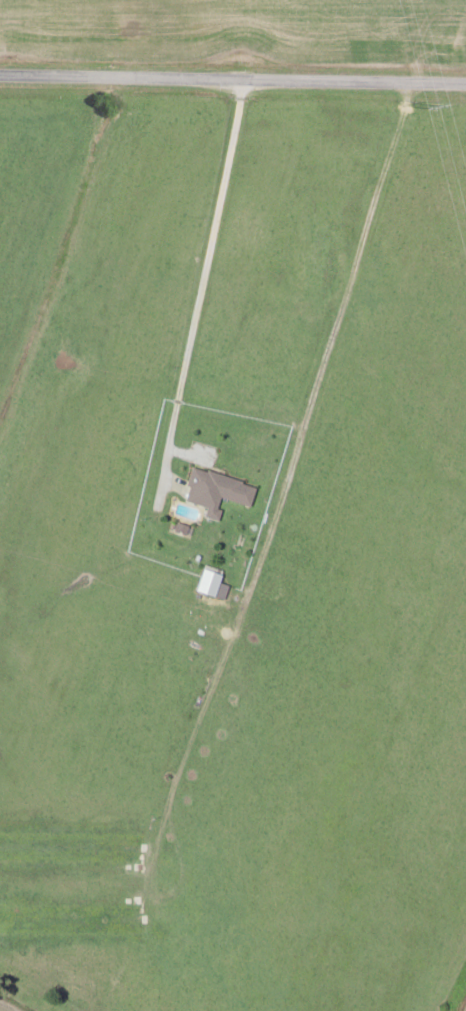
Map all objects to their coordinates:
road: (233, 75)
power tower: (431, 106)
building: (211, 492)
building: (70, 846)
building: (69, 918)

